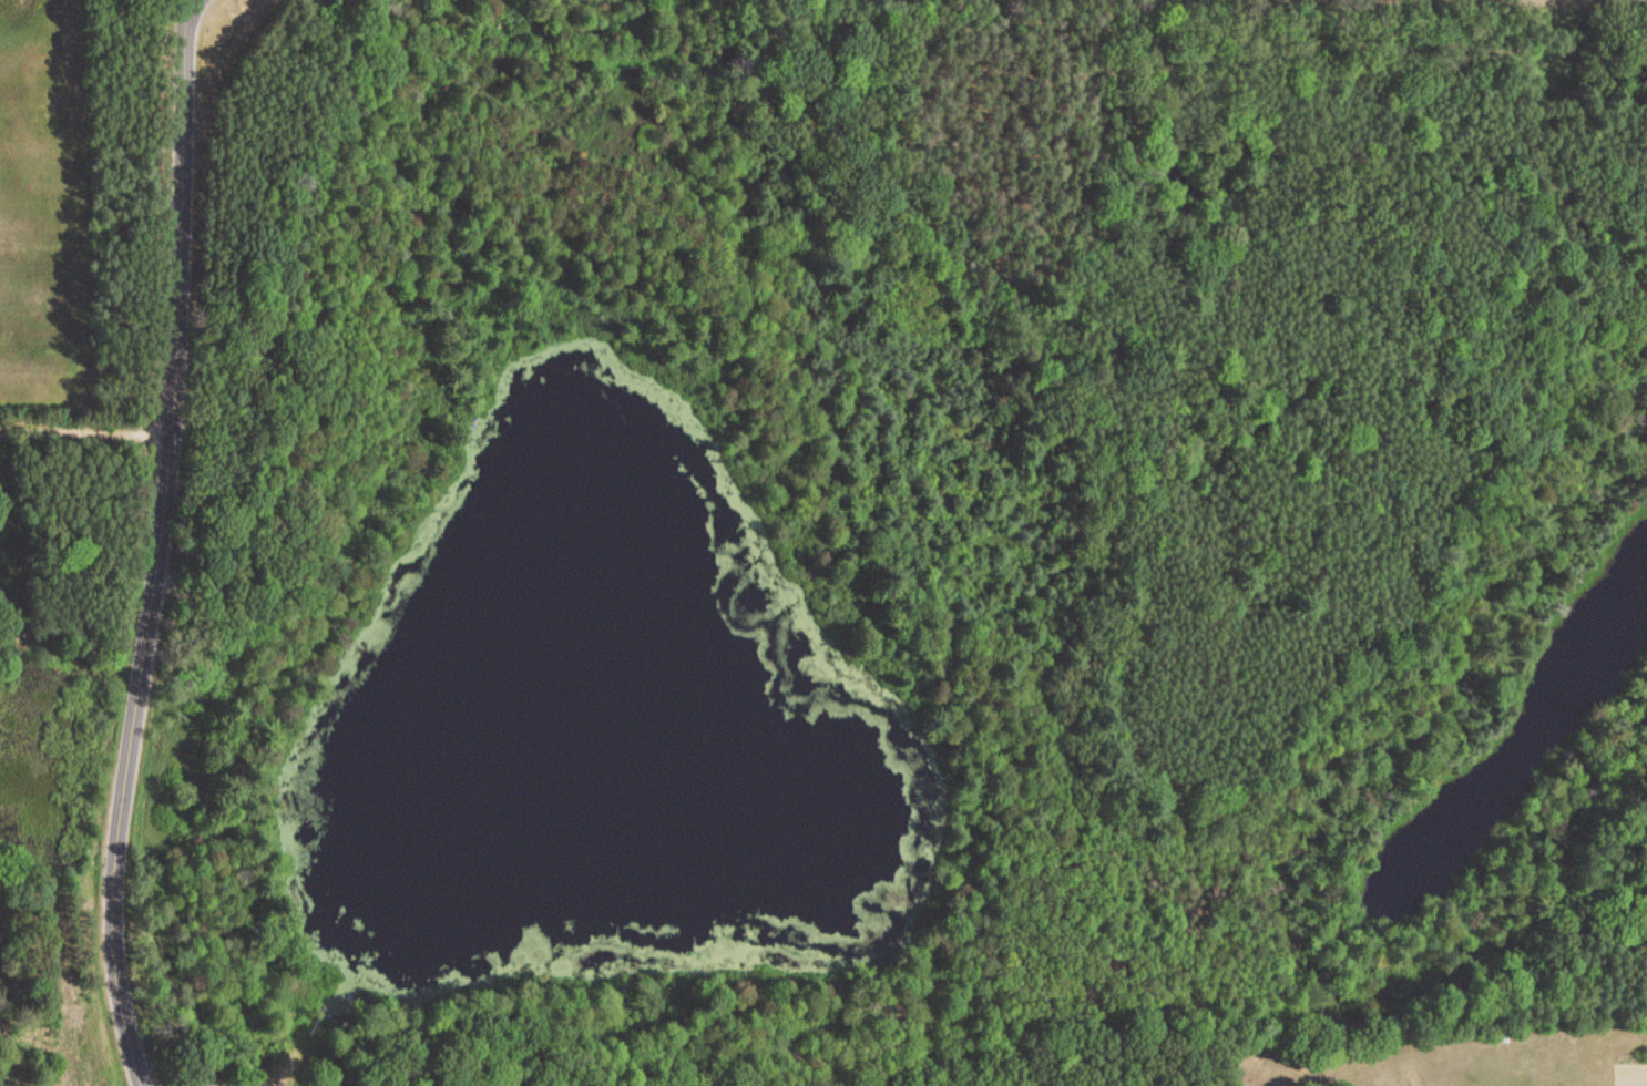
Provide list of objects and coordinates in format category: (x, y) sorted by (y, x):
road: (82, 433)
road: (152, 545)

